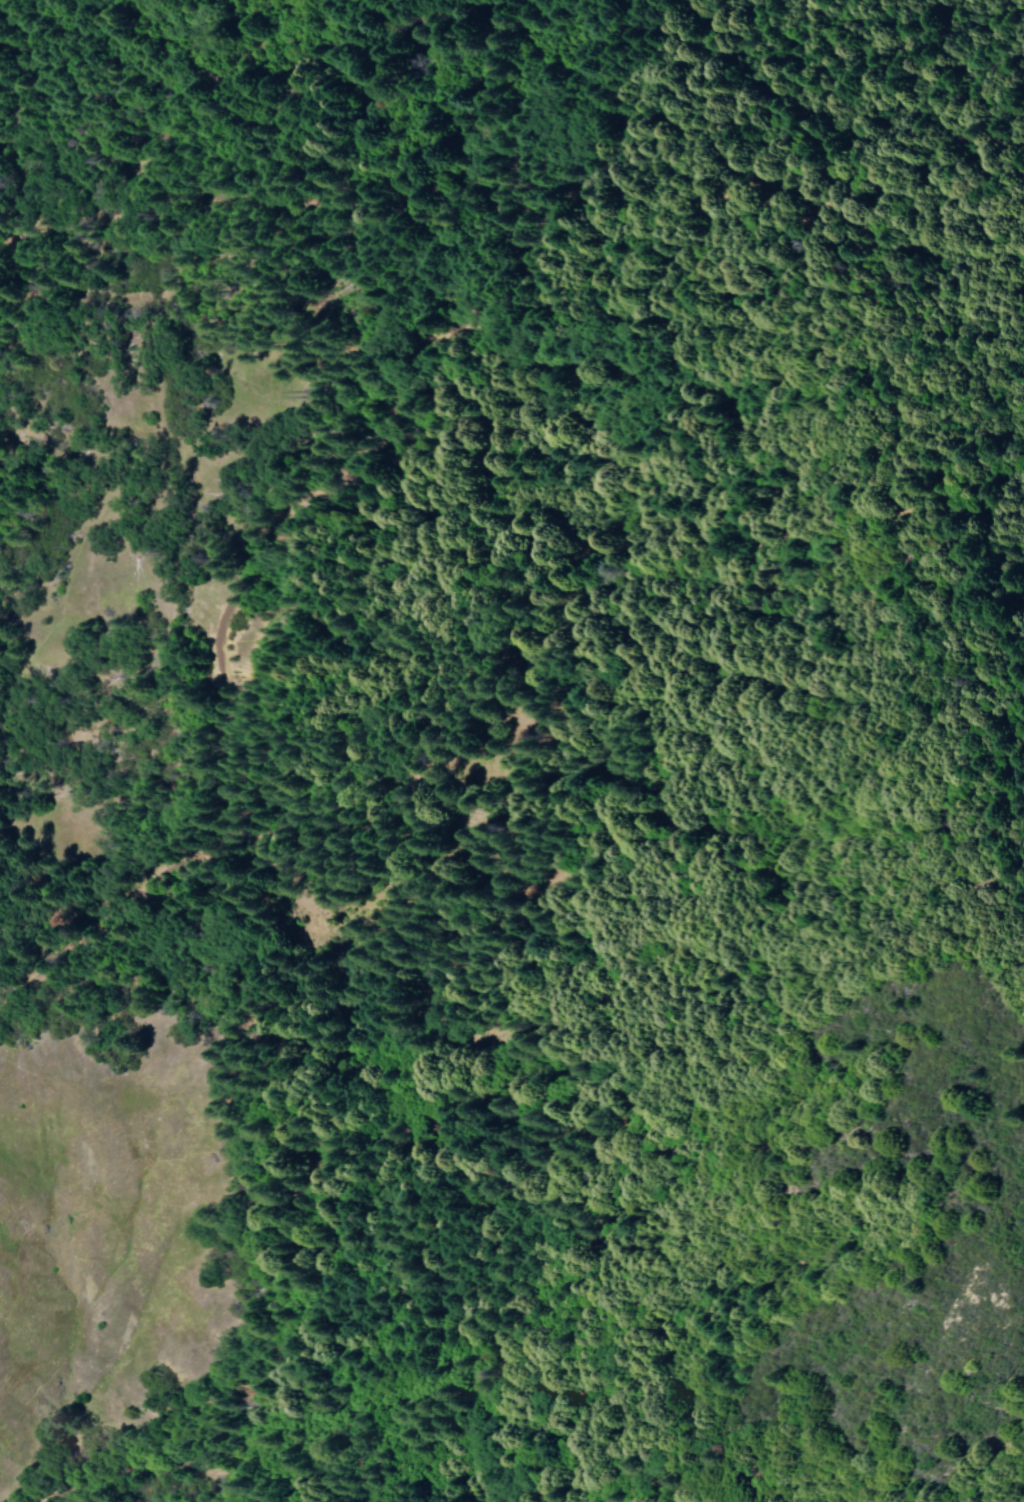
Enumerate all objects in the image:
road: (289, 533)

